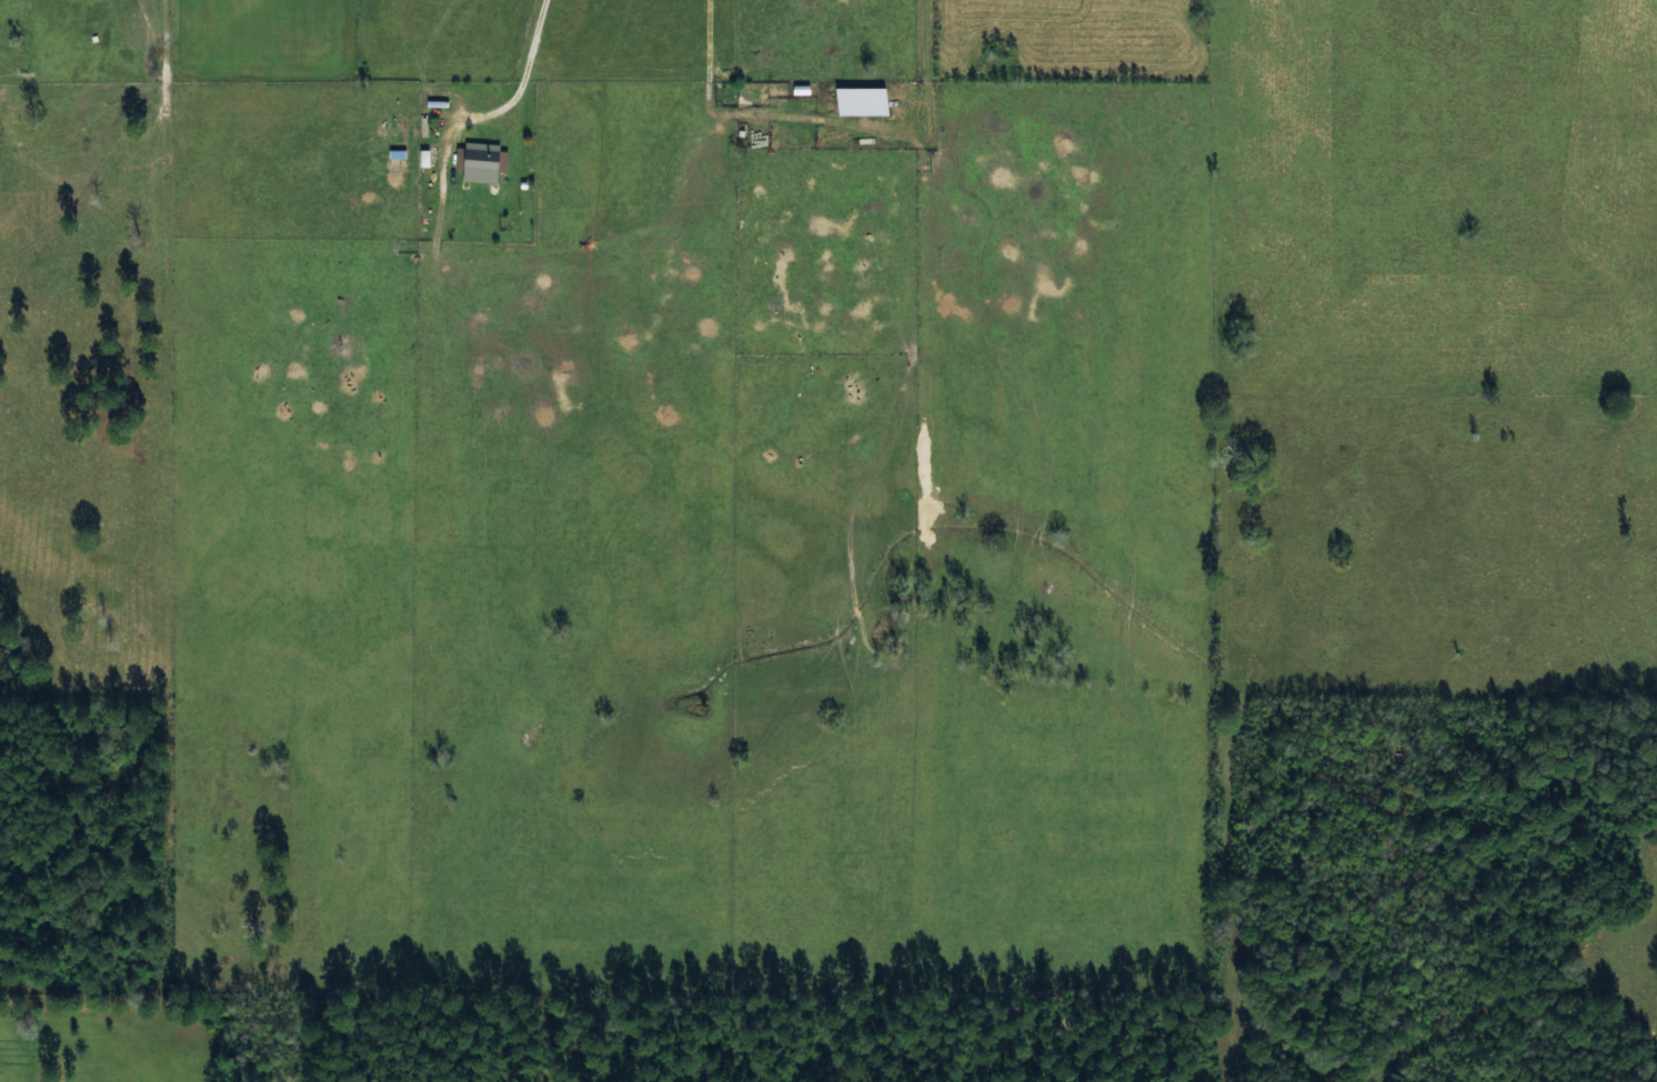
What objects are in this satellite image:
building: (861, 100)
building: (396, 153)
building: (423, 158)
building: (480, 161)

